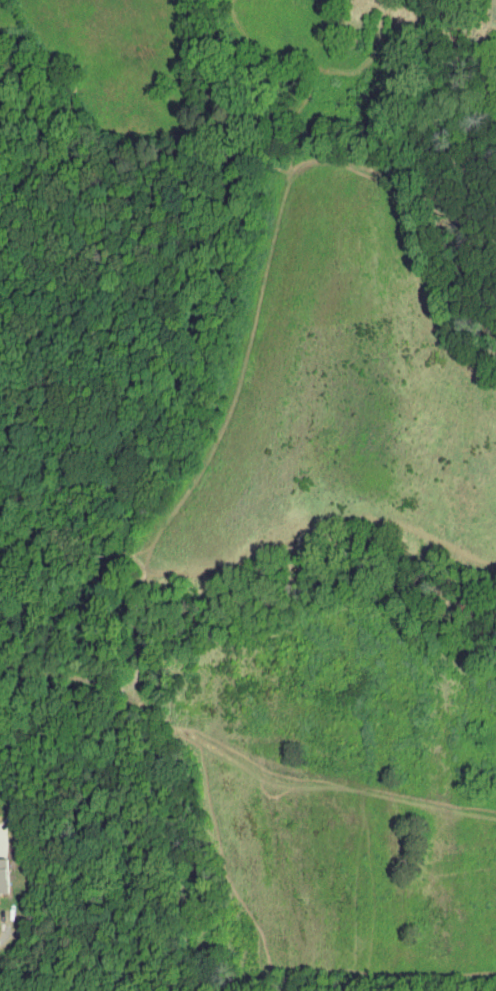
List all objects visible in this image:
building: (4, 875)

